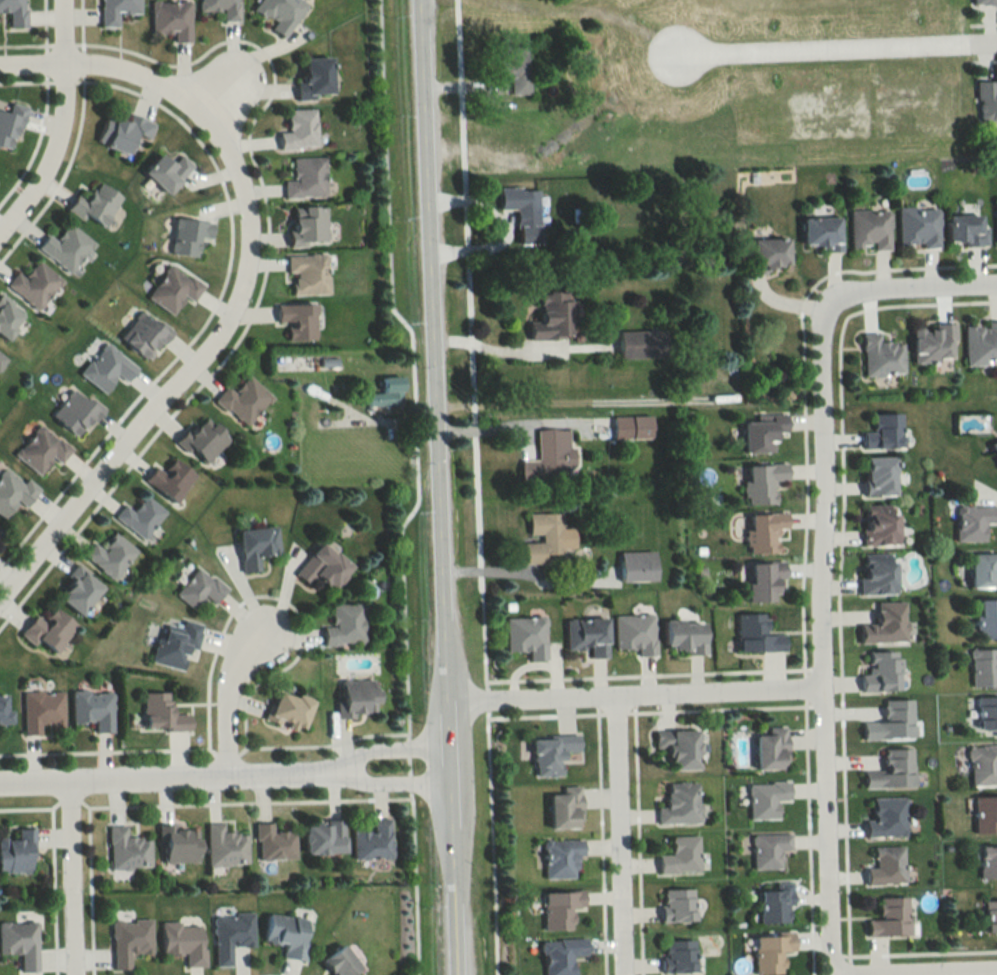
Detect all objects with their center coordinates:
building: (982, 1)
building: (222, 8)
building: (14, 11)
building: (116, 11)
building: (281, 13)
building: (172, 18)
road: (839, 48)
road: (33, 67)
building: (514, 70)
building: (315, 77)
building: (985, 102)
building: (10, 124)
road: (61, 125)
building: (299, 129)
building: (123, 131)
road: (384, 153)
building: (168, 170)
building: (307, 178)
building: (96, 205)
building: (528, 216)
building: (993, 223)
building: (308, 225)
building: (916, 227)
building: (870, 229)
building: (822, 231)
building: (961, 231)
building: (189, 235)
building: (66, 247)
building: (769, 253)
building: (308, 273)
building: (35, 285)
road: (902, 287)
building: (174, 288)
road: (220, 307)
building: (554, 316)
building: (8, 317)
building: (298, 320)
building: (145, 333)
building: (642, 342)
building: (932, 342)
building: (979, 343)
road: (496, 350)
building: (882, 355)
building: (1, 359)
building: (294, 363)
building: (107, 366)
building: (387, 392)
building: (244, 400)
building: (76, 412)
road: (413, 412)
road: (504, 423)
building: (631, 426)
building: (885, 431)
building: (762, 435)
building: (203, 439)
building: (42, 449)
building: (992, 452)
building: (549, 456)
building: (880, 475)
building: (171, 479)
building: (763, 482)
road: (441, 487)
road: (476, 487)
building: (13, 490)
building: (142, 519)
building: (970, 522)
building: (879, 524)
building: (1, 529)
building: (765, 531)
building: (543, 537)
building: (257, 546)
building: (110, 556)
building: (324, 566)
building: (637, 566)
building: (978, 570)
building: (878, 574)
building: (765, 581)
building: (200, 589)
building: (80, 591)
building: (984, 619)
building: (886, 624)
building: (345, 625)
building: (49, 630)
building: (635, 633)
building: (757, 634)
building: (527, 636)
building: (588, 636)
building: (684, 636)
building: (176, 645)
road: (823, 645)
building: (982, 668)
building: (882, 672)
road: (228, 696)
road: (639, 696)
building: (358, 697)
building: (93, 708)
building: (289, 709)
building: (4, 710)
building: (41, 710)
building: (162, 713)
building: (984, 716)
building: (892, 722)
building: (679, 747)
building: (771, 747)
road: (412, 748)
road: (389, 750)
building: (553, 753)
building: (981, 765)
building: (893, 770)
road: (164, 776)
road: (390, 783)
building: (766, 798)
building: (679, 804)
building: (565, 808)
building: (983, 815)
building: (887, 818)
road: (623, 836)
building: (324, 837)
building: (373, 841)
building: (274, 843)
building: (180, 844)
building: (225, 846)
building: (127, 849)
building: (769, 850)
building: (17, 853)
building: (680, 856)
building: (561, 858)
building: (985, 862)
building: (887, 866)
road: (70, 877)
building: (775, 903)
building: (677, 905)
building: (561, 909)
building: (988, 917)
building: (891, 918)
building: (231, 935)
building: (288, 935)
building: (129, 941)
building: (184, 941)
building: (20, 943)
building: (772, 952)
building: (561, 955)
building: (678, 957)
building: (341, 962)
road: (916, 967)

